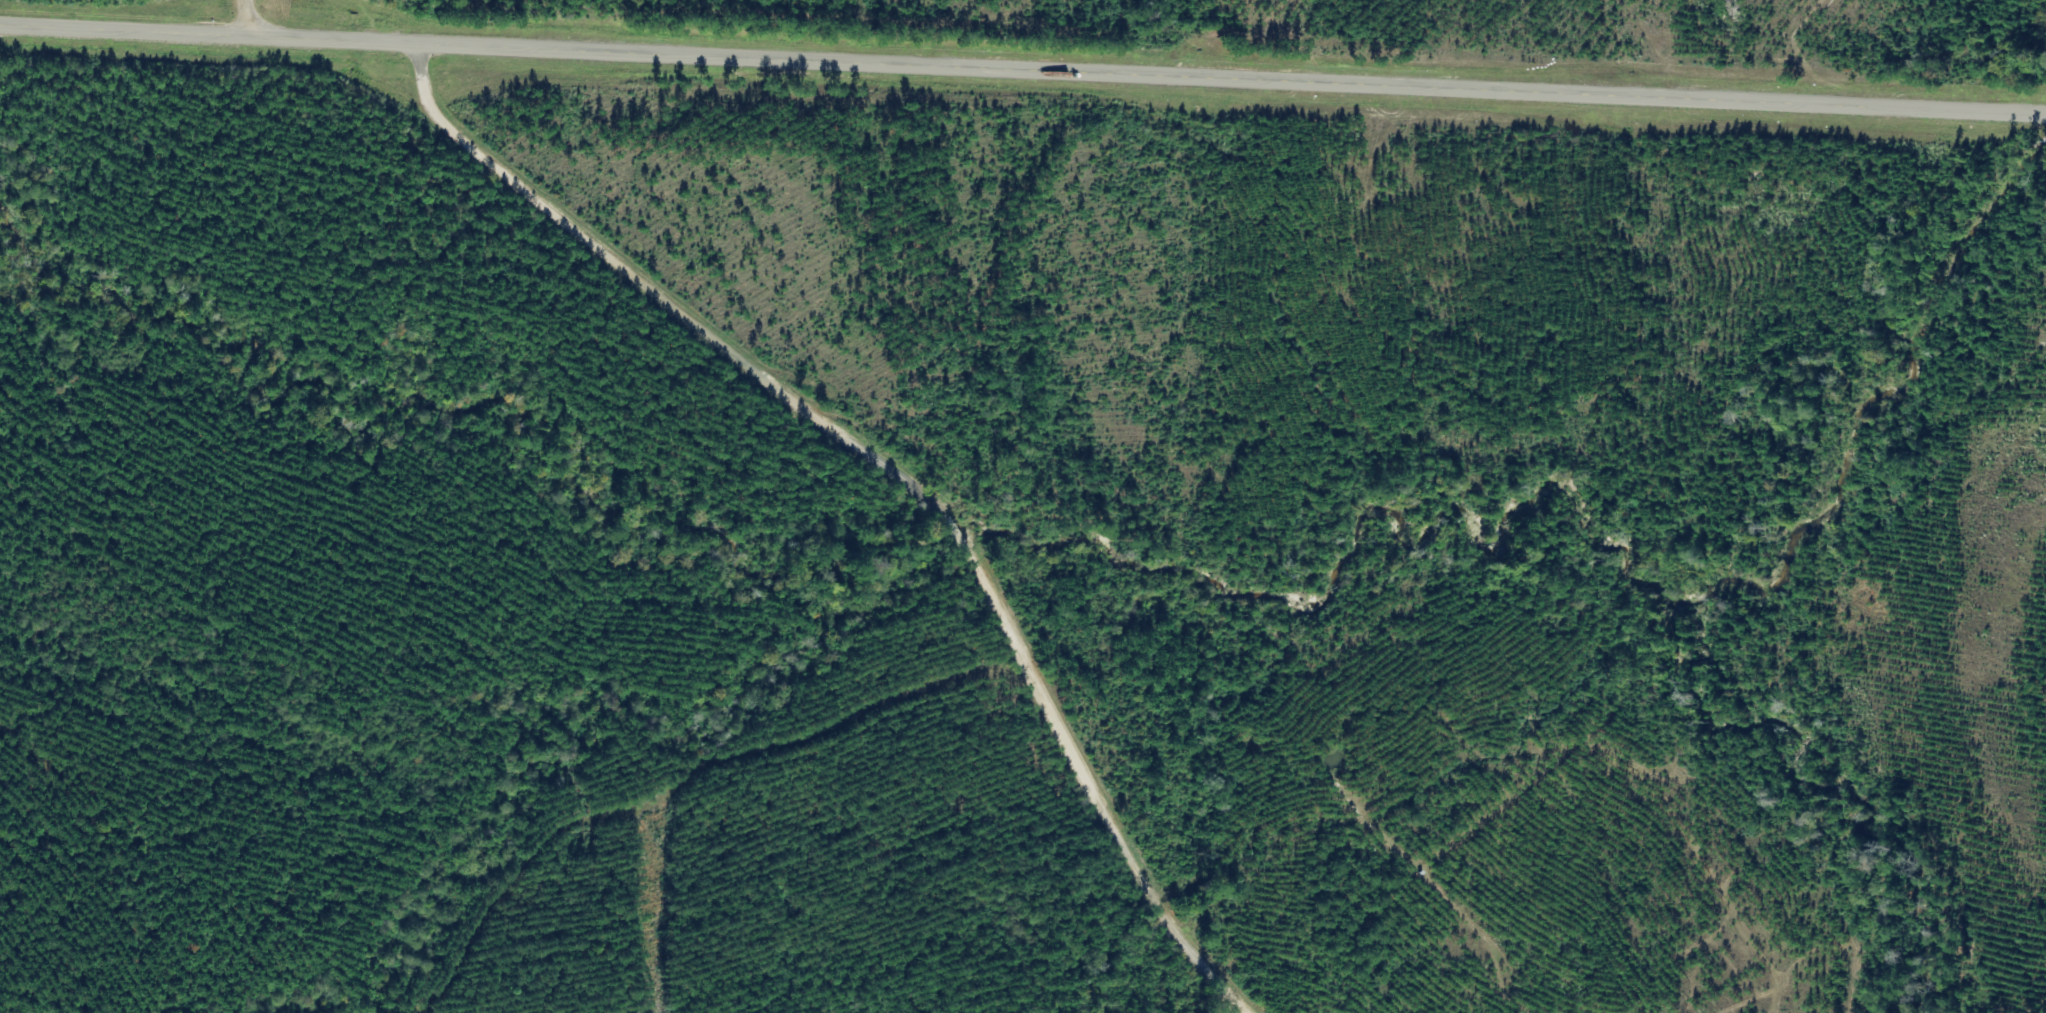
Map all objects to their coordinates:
road: (247, 18)
road: (1022, 69)
road: (891, 469)

